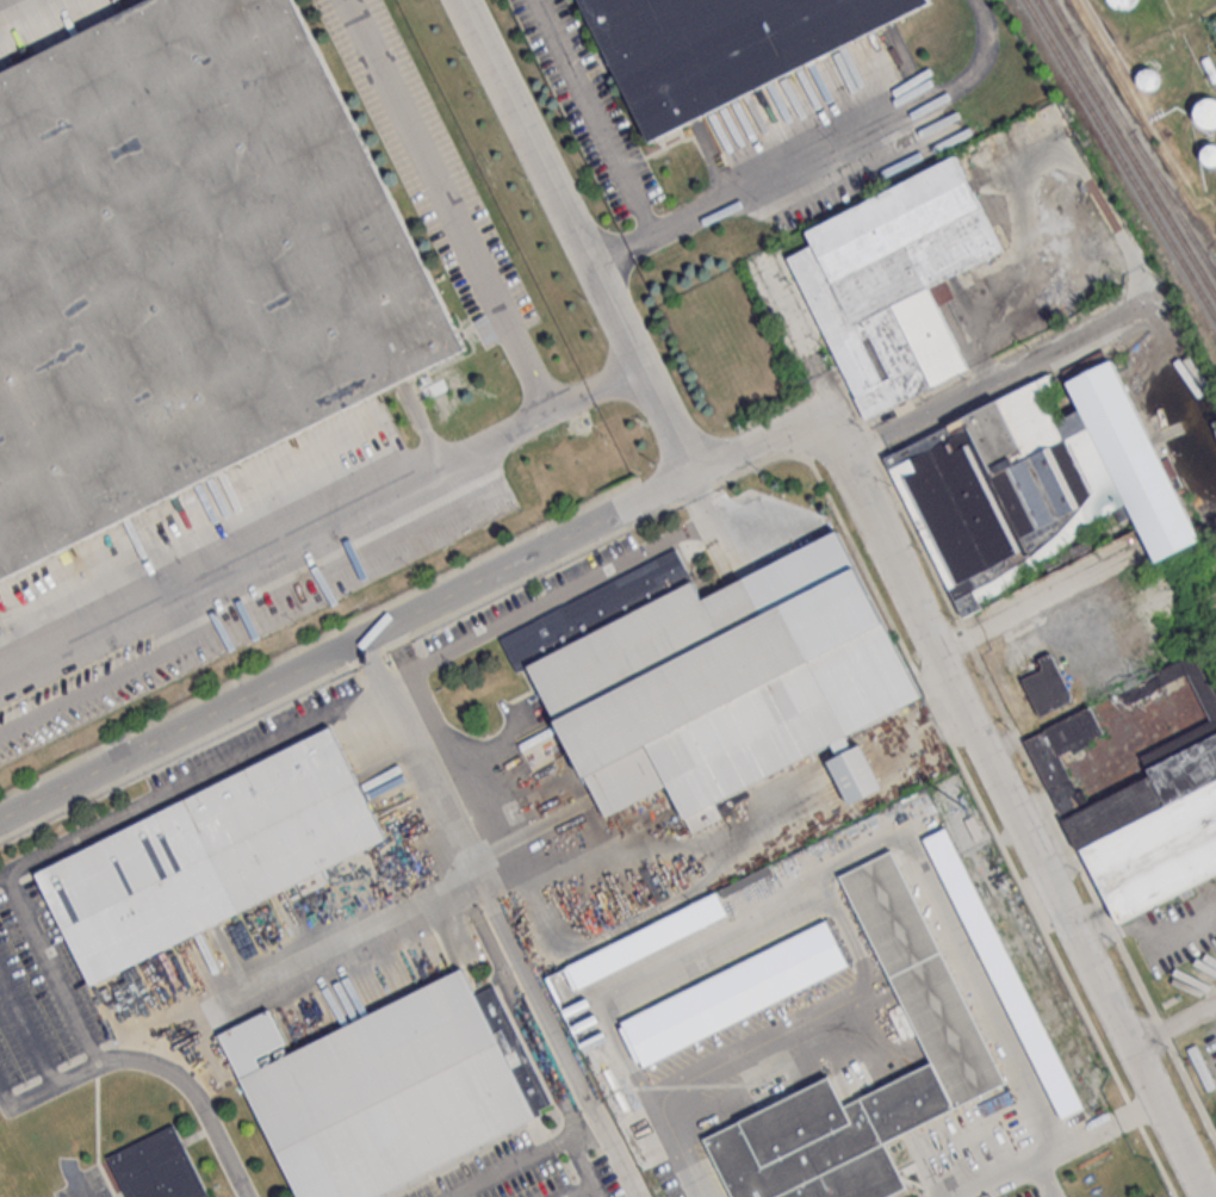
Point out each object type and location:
building: (1124, 4)
storage tank: (1124, 4)
building: (719, 46)
railway: (1066, 67)
building: (1150, 80)
storage tank: (1150, 80)
building: (1208, 116)
storage tank: (1208, 116)
road: (595, 118)
railway: (1127, 147)
road: (819, 153)
building: (1210, 156)
storage tank: (1210, 156)
road: (446, 205)
railway: (1161, 224)
road: (578, 236)
building: (186, 263)
building: (894, 286)
road: (1001, 374)
building: (1024, 458)
building: (1124, 465)
building: (955, 507)
road: (321, 520)
road: (560, 590)
road: (1042, 601)
road: (417, 608)
road: (397, 674)
building: (715, 677)
building: (1049, 690)
building: (1214, 715)
road: (926, 730)
road: (982, 732)
road: (433, 770)
building: (1054, 774)
building: (855, 775)
building: (1187, 775)
road: (193, 780)
building: (1117, 815)
building: (1159, 858)
building: (212, 860)
building: (650, 943)
road: (52, 970)
building: (1005, 976)
building: (924, 982)
building: (738, 997)
parking lot: (42, 1006)
road: (863, 1007)
road: (556, 1027)
road: (1174, 1027)
road: (145, 1063)
road: (557, 1084)
building: (384, 1094)
building: (829, 1142)
road: (683, 1145)
road: (1060, 1148)
parking lot: (987, 1156)
building: (156, 1167)
road: (585, 1167)
parking lot: (529, 1170)
road: (1046, 1178)
road: (79, 1189)
road: (579, 1190)
road: (706, 1191)

